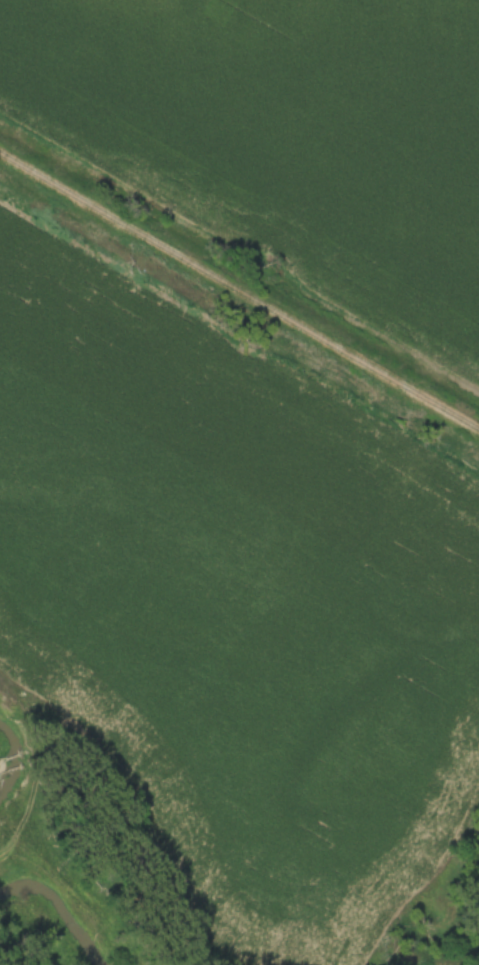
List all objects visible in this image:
crop: (287, 130)
railway: (239, 283)

